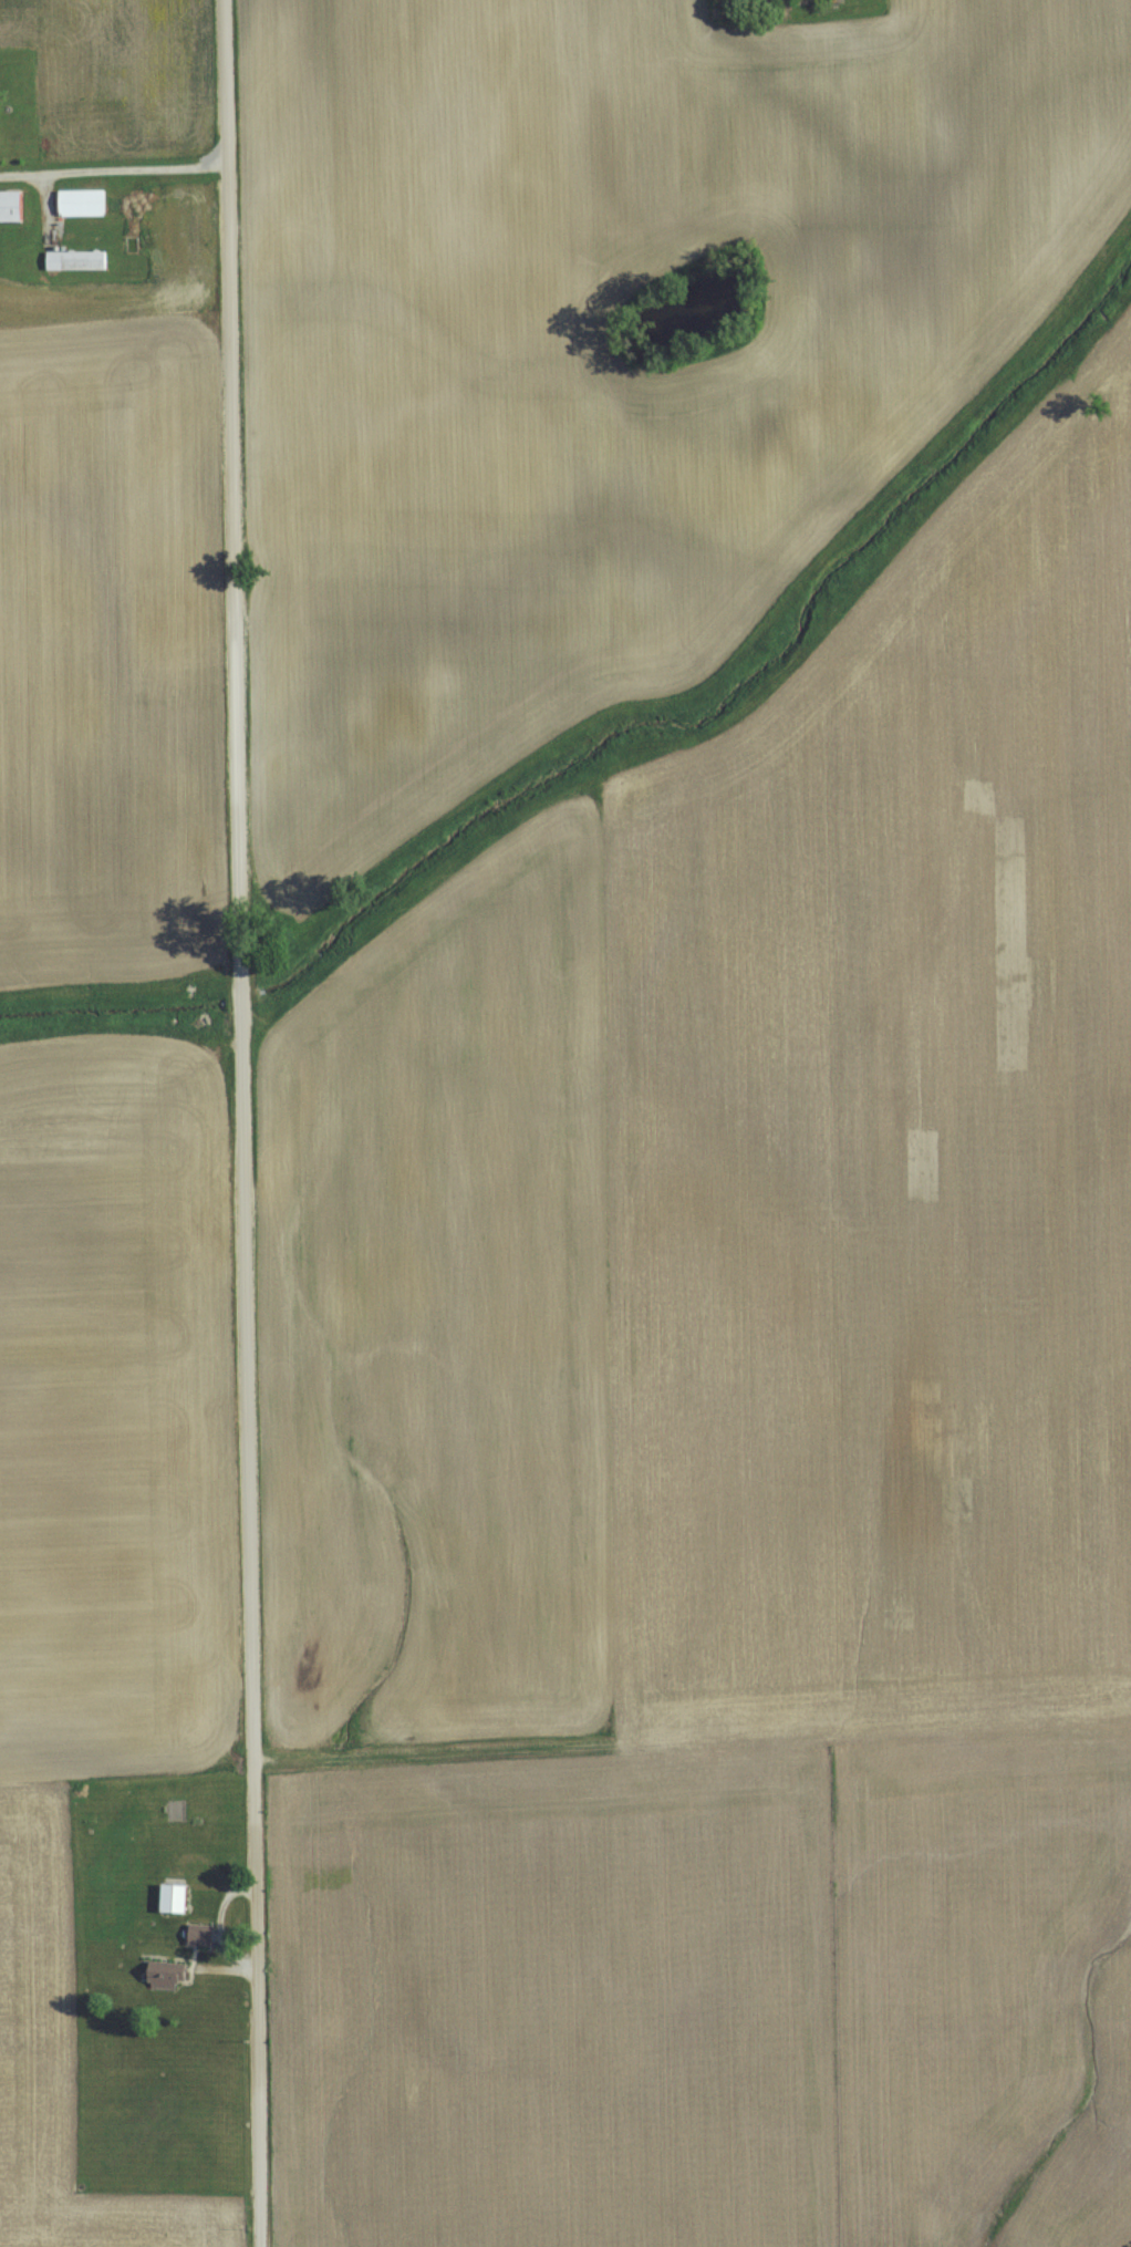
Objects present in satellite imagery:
road: (112, 162)
building: (84, 203)
building: (14, 207)
building: (77, 260)
road: (238, 1123)
building: (124, 1833)
building: (105, 1877)
building: (180, 1898)
building: (111, 1909)
building: (205, 1935)
building: (170, 1971)

